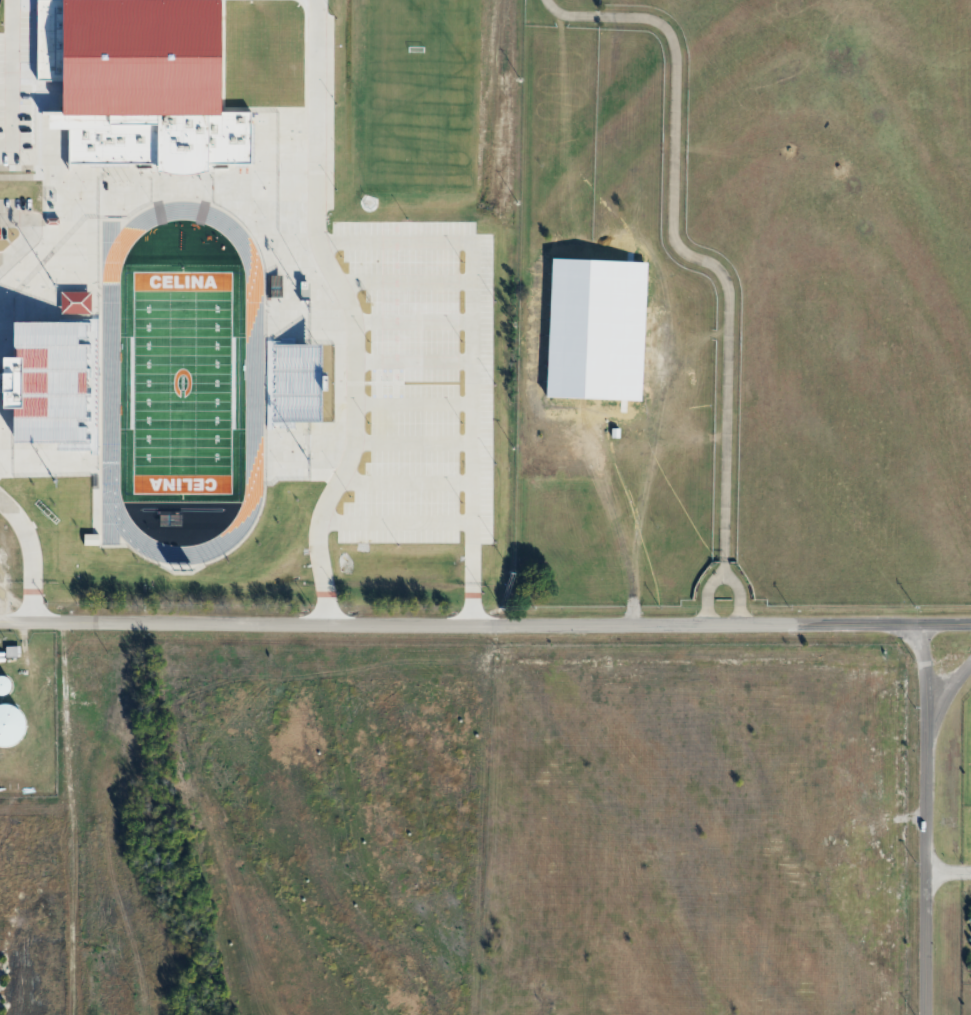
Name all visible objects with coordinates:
road: (10, 70)
building: (146, 90)
road: (27, 231)
road: (675, 247)
road: (3, 255)
building: (72, 303)
road: (349, 313)
road: (468, 356)
park: (181, 382)
track: (253, 383)
building: (294, 383)
building: (52, 386)
building: (619, 388)
building: (13, 398)
road: (27, 557)
road: (734, 595)
road: (703, 596)
road: (485, 626)
building: (5, 684)
road: (943, 697)
building: (11, 723)
road: (925, 820)
road: (947, 870)

